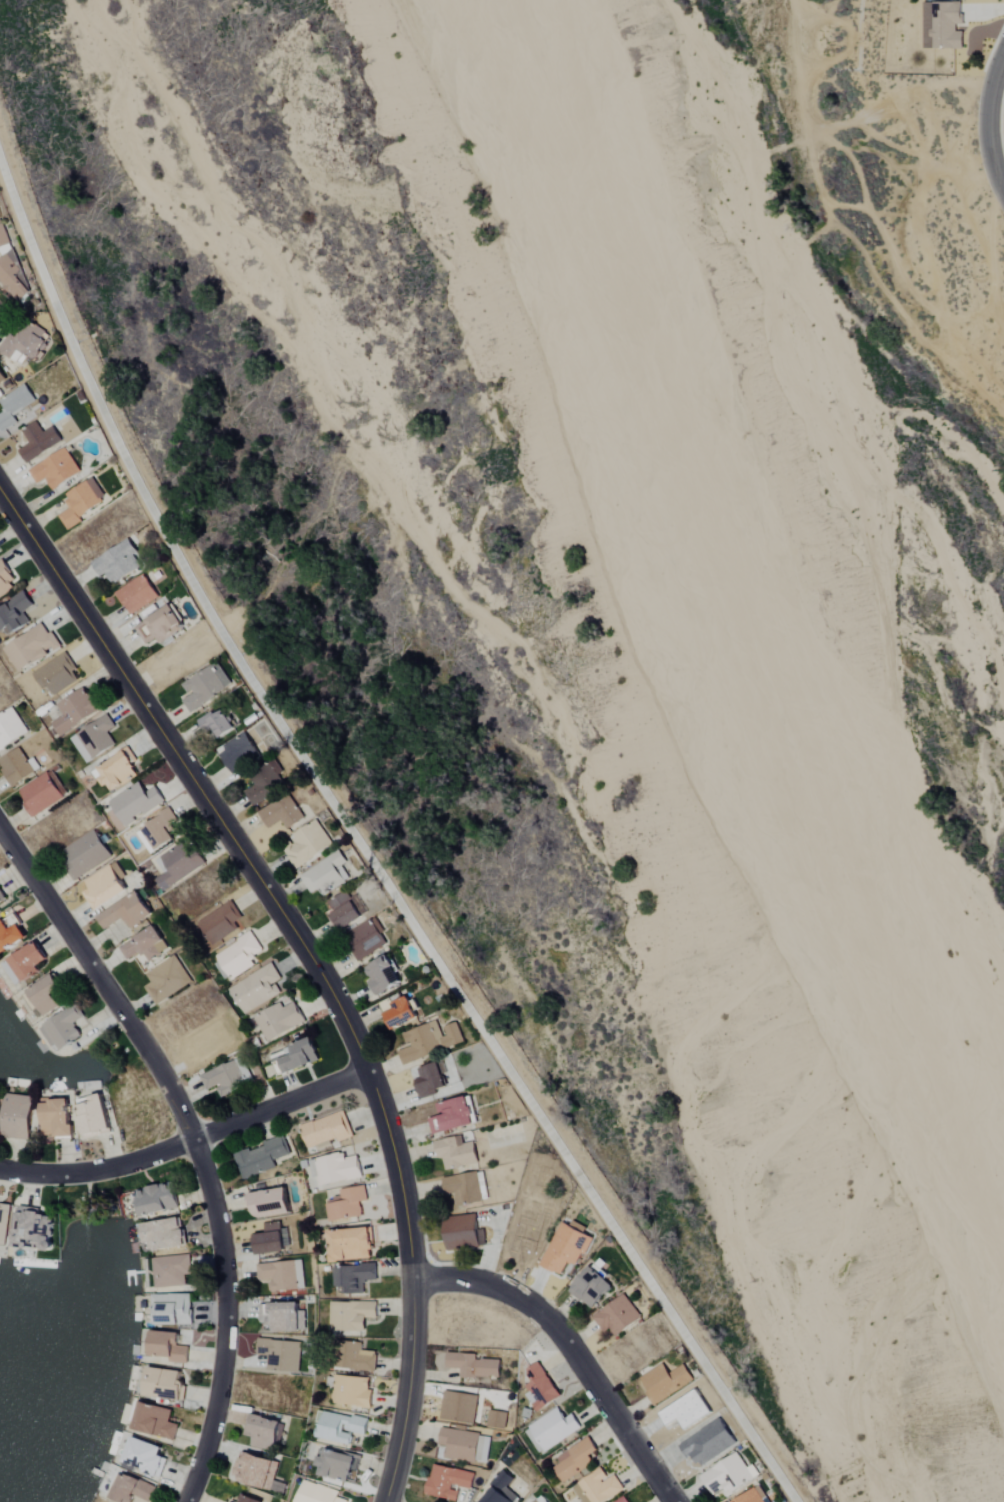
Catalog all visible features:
building: (942, 25)
road: (991, 123)
building: (3, 238)
building: (14, 280)
building: (23, 344)
building: (1, 378)
building: (14, 406)
building: (38, 442)
building: (55, 470)
building: (81, 503)
building: (117, 563)
building: (5, 581)
building: (135, 595)
building: (13, 613)
building: (159, 626)
river: (732, 638)
building: (31, 646)
building: (55, 674)
building: (204, 685)
building: (74, 709)
building: (214, 723)
building: (10, 727)
building: (94, 737)
building: (236, 751)
building: (17, 765)
building: (116, 770)
building: (263, 781)
building: (41, 793)
building: (135, 802)
building: (280, 812)
building: (157, 830)
building: (304, 844)
road: (371, 845)
building: (84, 854)
building: (177, 864)
road: (250, 865)
building: (325, 873)
building: (104, 886)
building: (1, 895)
building: (344, 909)
building: (0, 910)
building: (126, 911)
building: (0, 912)
building: (219, 922)
building: (10, 935)
building: (363, 938)
building: (144, 944)
building: (237, 956)
building: (25, 962)
building: (379, 974)
building: (166, 979)
building: (256, 988)
building: (44, 994)
building: (399, 1012)
building: (278, 1020)
building: (62, 1027)
building: (427, 1040)
building: (295, 1056)
building: (227, 1076)
building: (428, 1079)
road: (281, 1104)
building: (452, 1114)
building: (92, 1115)
building: (17, 1116)
building: (56, 1118)
building: (326, 1129)
road: (196, 1141)
building: (455, 1153)
building: (259, 1156)
building: (335, 1168)
road: (101, 1172)
building: (466, 1187)
building: (157, 1199)
building: (268, 1202)
building: (347, 1204)
building: (3, 1221)
building: (33, 1229)
building: (165, 1233)
building: (462, 1233)
building: (527, 1235)
building: (269, 1240)
building: (351, 1245)
building: (565, 1248)
building: (171, 1271)
building: (282, 1275)
building: (353, 1277)
building: (591, 1287)
building: (170, 1310)
building: (351, 1315)
building: (280, 1316)
building: (617, 1316)
building: (166, 1347)
road: (572, 1348)
building: (280, 1354)
building: (356, 1355)
building: (472, 1366)
building: (664, 1382)
building: (164, 1384)
building: (540, 1387)
building: (351, 1391)
road: (407, 1391)
building: (458, 1407)
building: (496, 1420)
building: (155, 1422)
building: (341, 1427)
building: (553, 1428)
building: (262, 1432)
building: (464, 1445)
building: (144, 1456)
building: (574, 1461)
building: (336, 1465)
building: (254, 1470)
building: (727, 1476)
building: (447, 1482)
building: (597, 1488)
building: (132, 1490)
building: (317, 1493)
building: (752, 1496)
building: (248, 1499)
building: (539, 1500)
building: (622, 1500)

